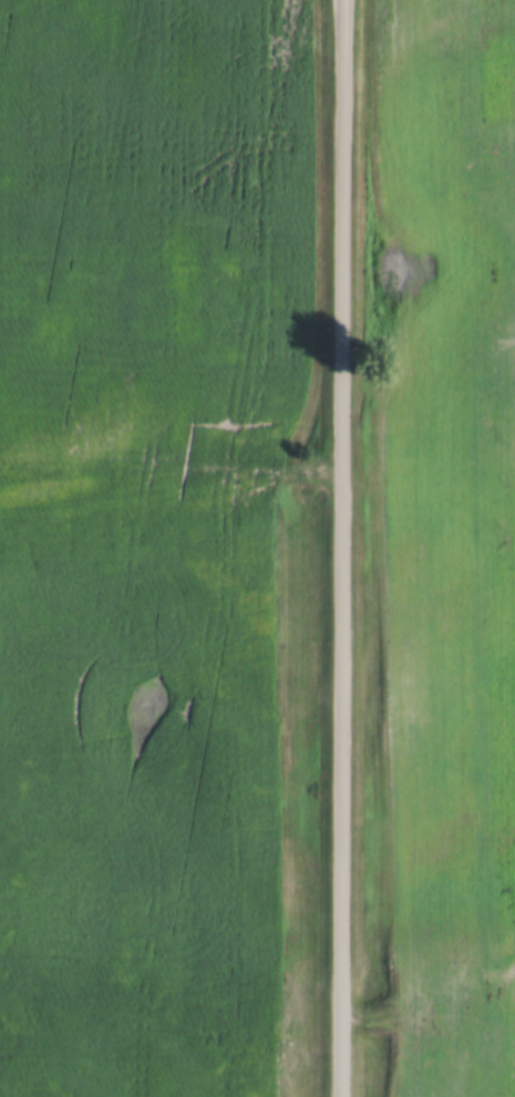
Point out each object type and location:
road: (172, 486)
road: (344, 548)

